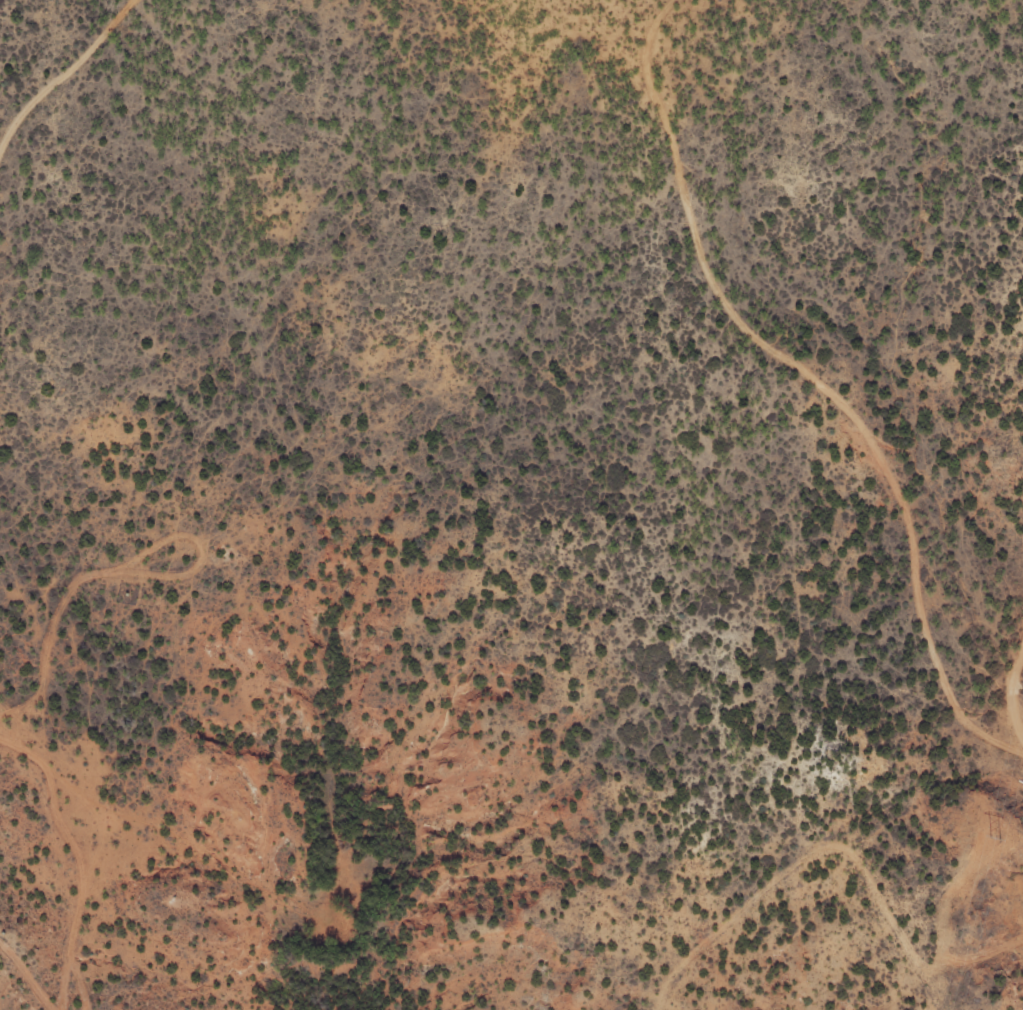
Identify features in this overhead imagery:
road: (40, 73)
power tower: (997, 836)

